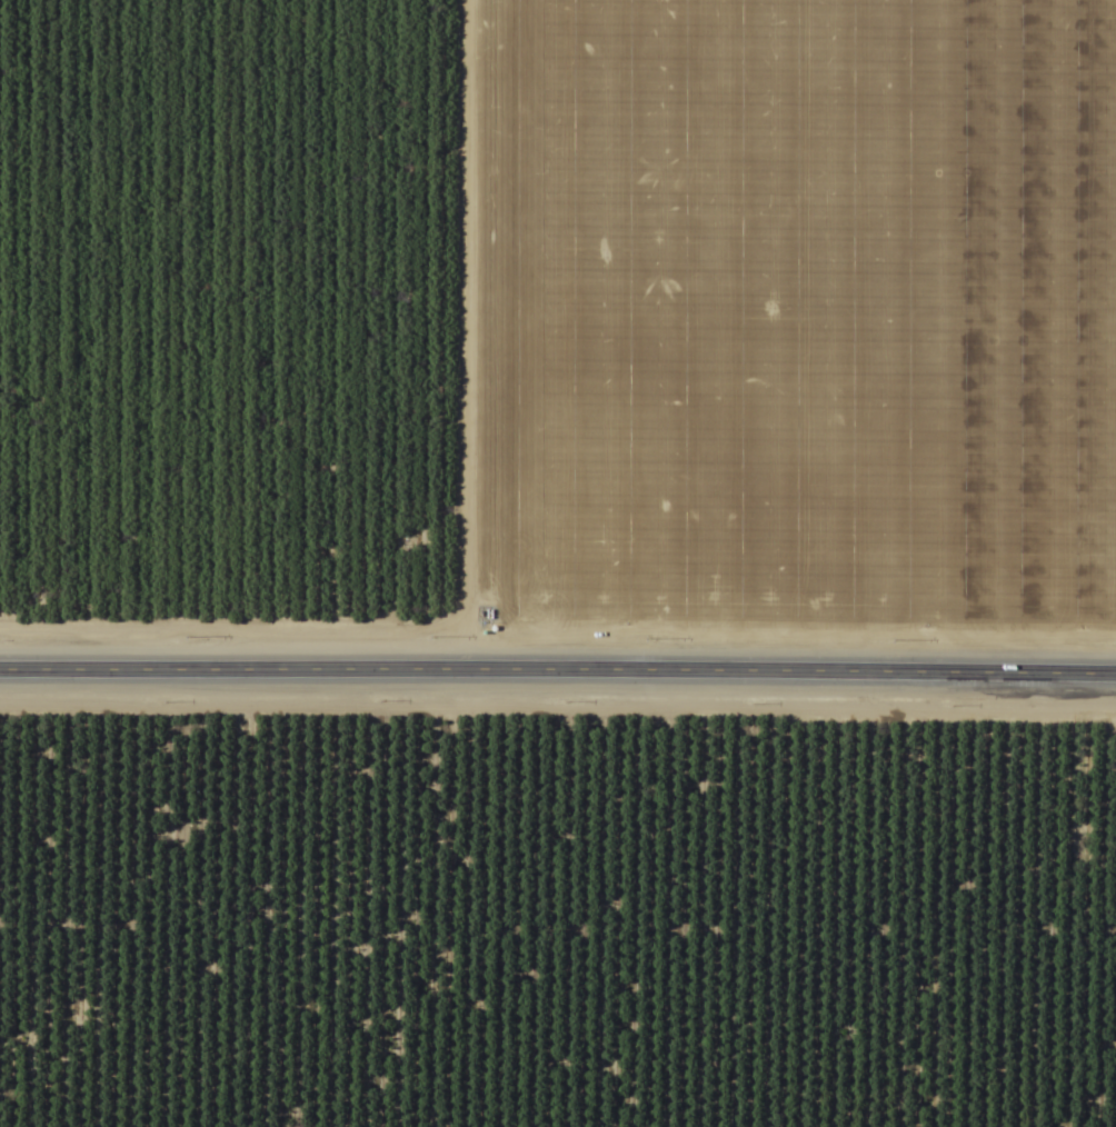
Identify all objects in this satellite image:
road: (452, 335)
road: (558, 670)
crop: (558, 914)

